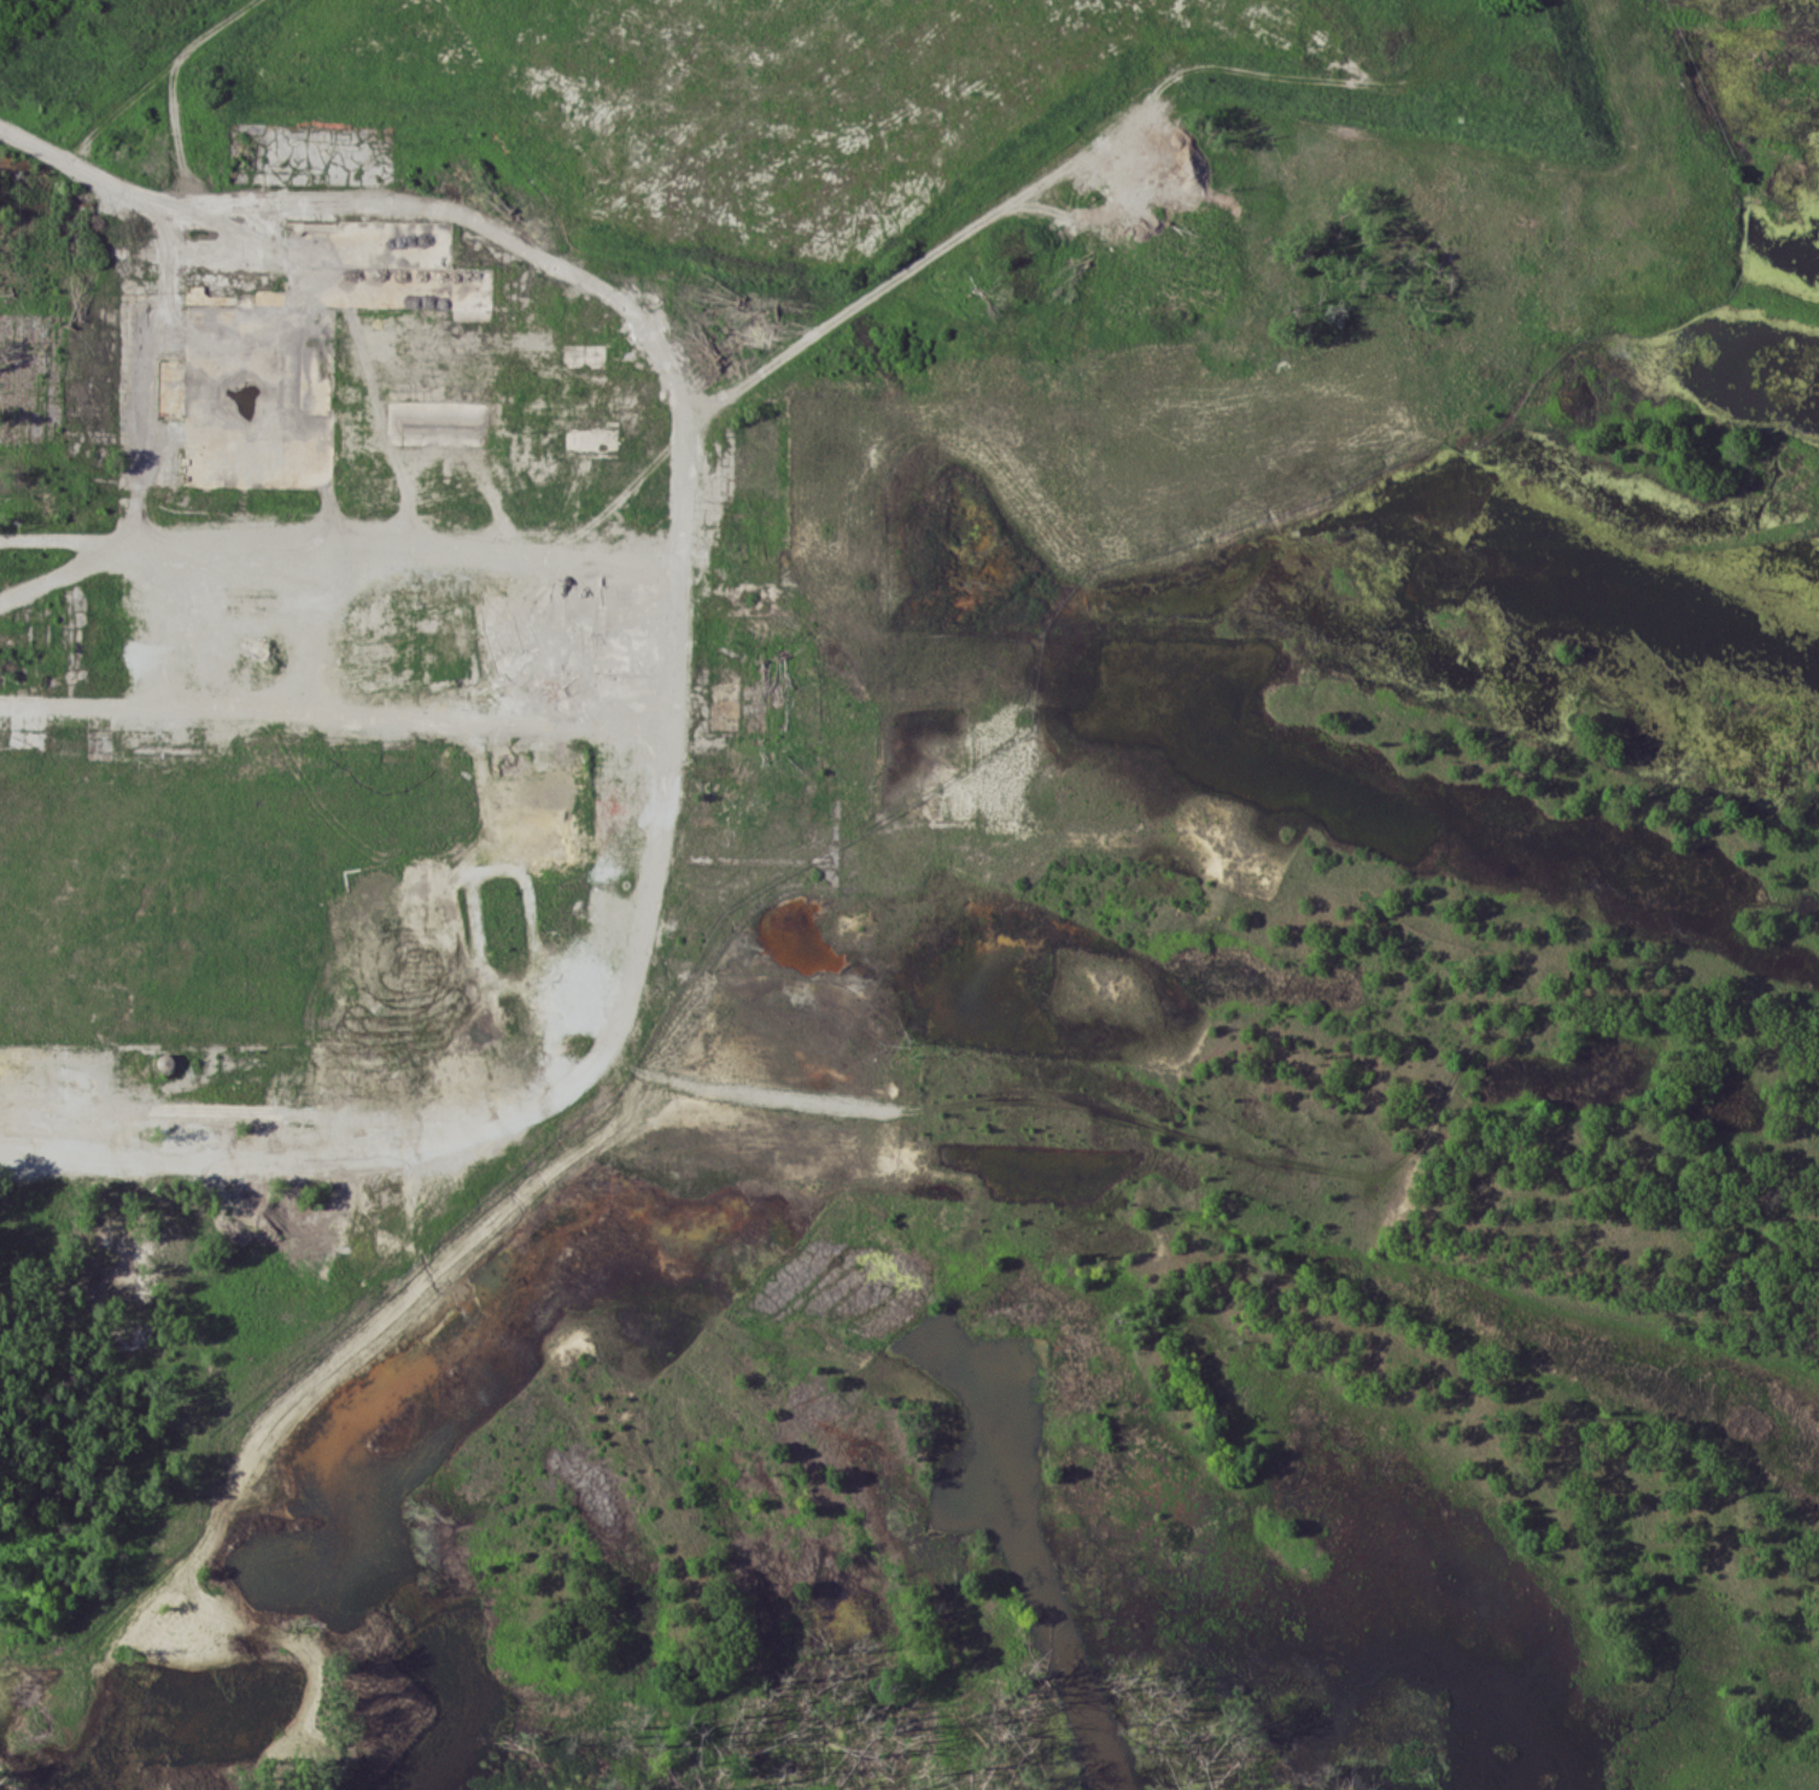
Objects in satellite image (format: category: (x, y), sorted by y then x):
road: (153, 77)
landfill: (830, 92)
road: (688, 415)
building: (166, 1058)
road: (550, 1088)

